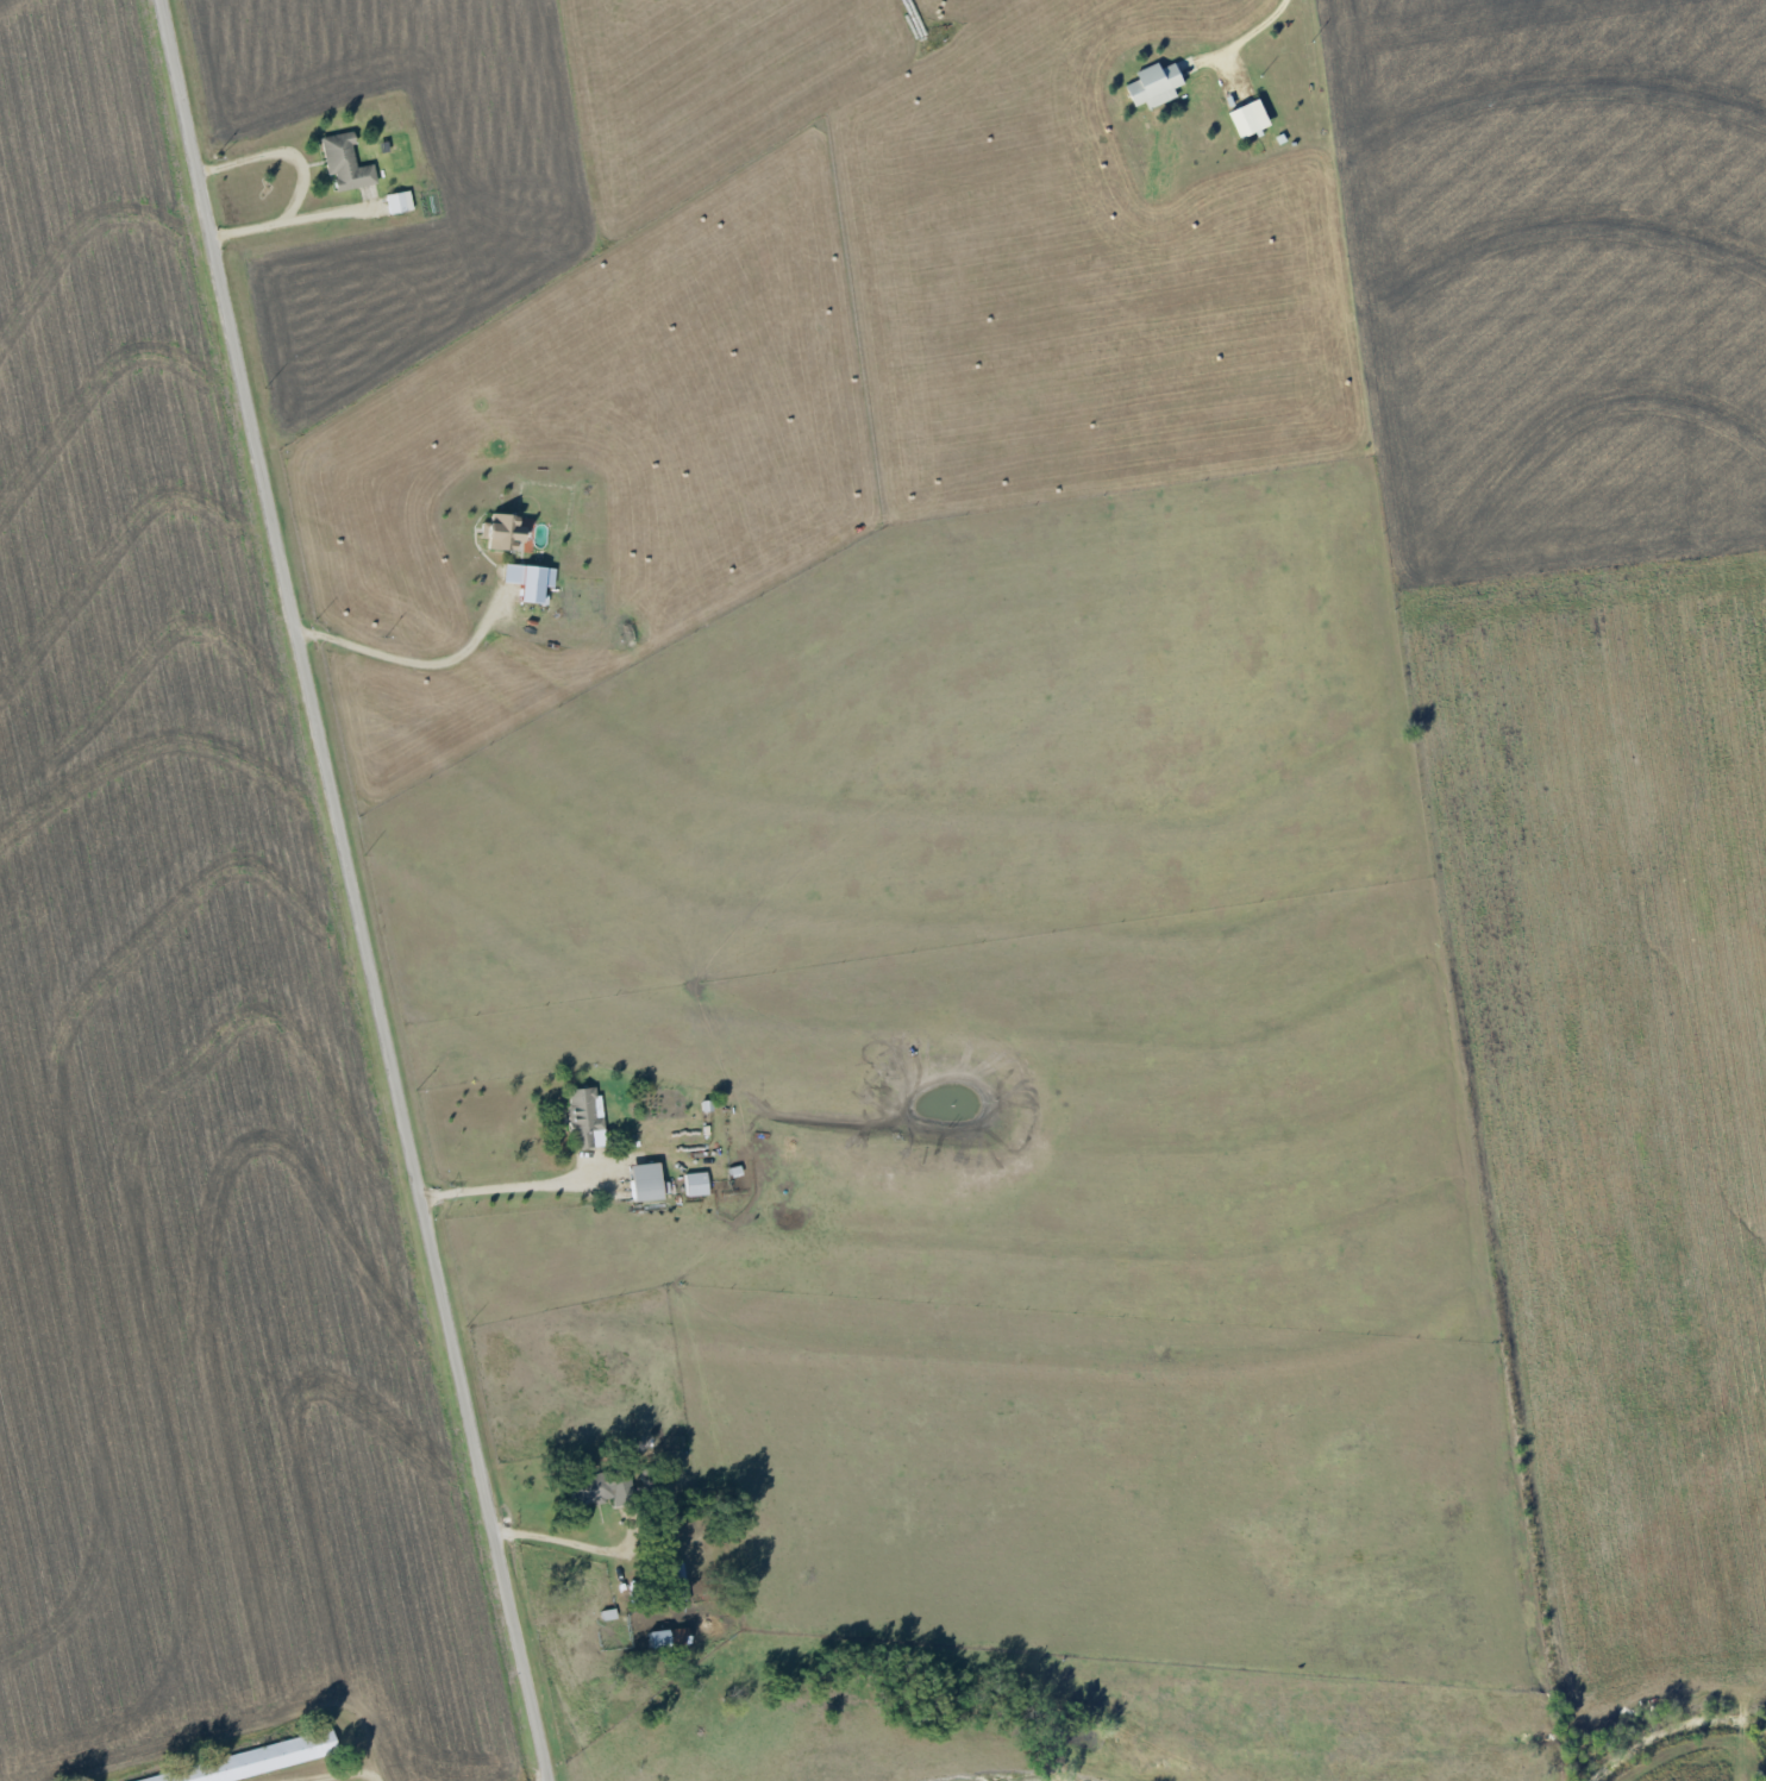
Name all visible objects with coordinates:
road: (1247, 33)
building: (1156, 84)
building: (1252, 119)
building: (344, 163)
road: (300, 177)
building: (397, 202)
building: (501, 533)
building: (528, 582)
road: (420, 679)
road: (351, 890)
building: (584, 1117)
building: (645, 1181)
building: (695, 1184)
road: (507, 1200)
building: (600, 1488)
road: (550, 1538)
building: (675, 1584)
building: (666, 1638)
building: (255, 1763)

